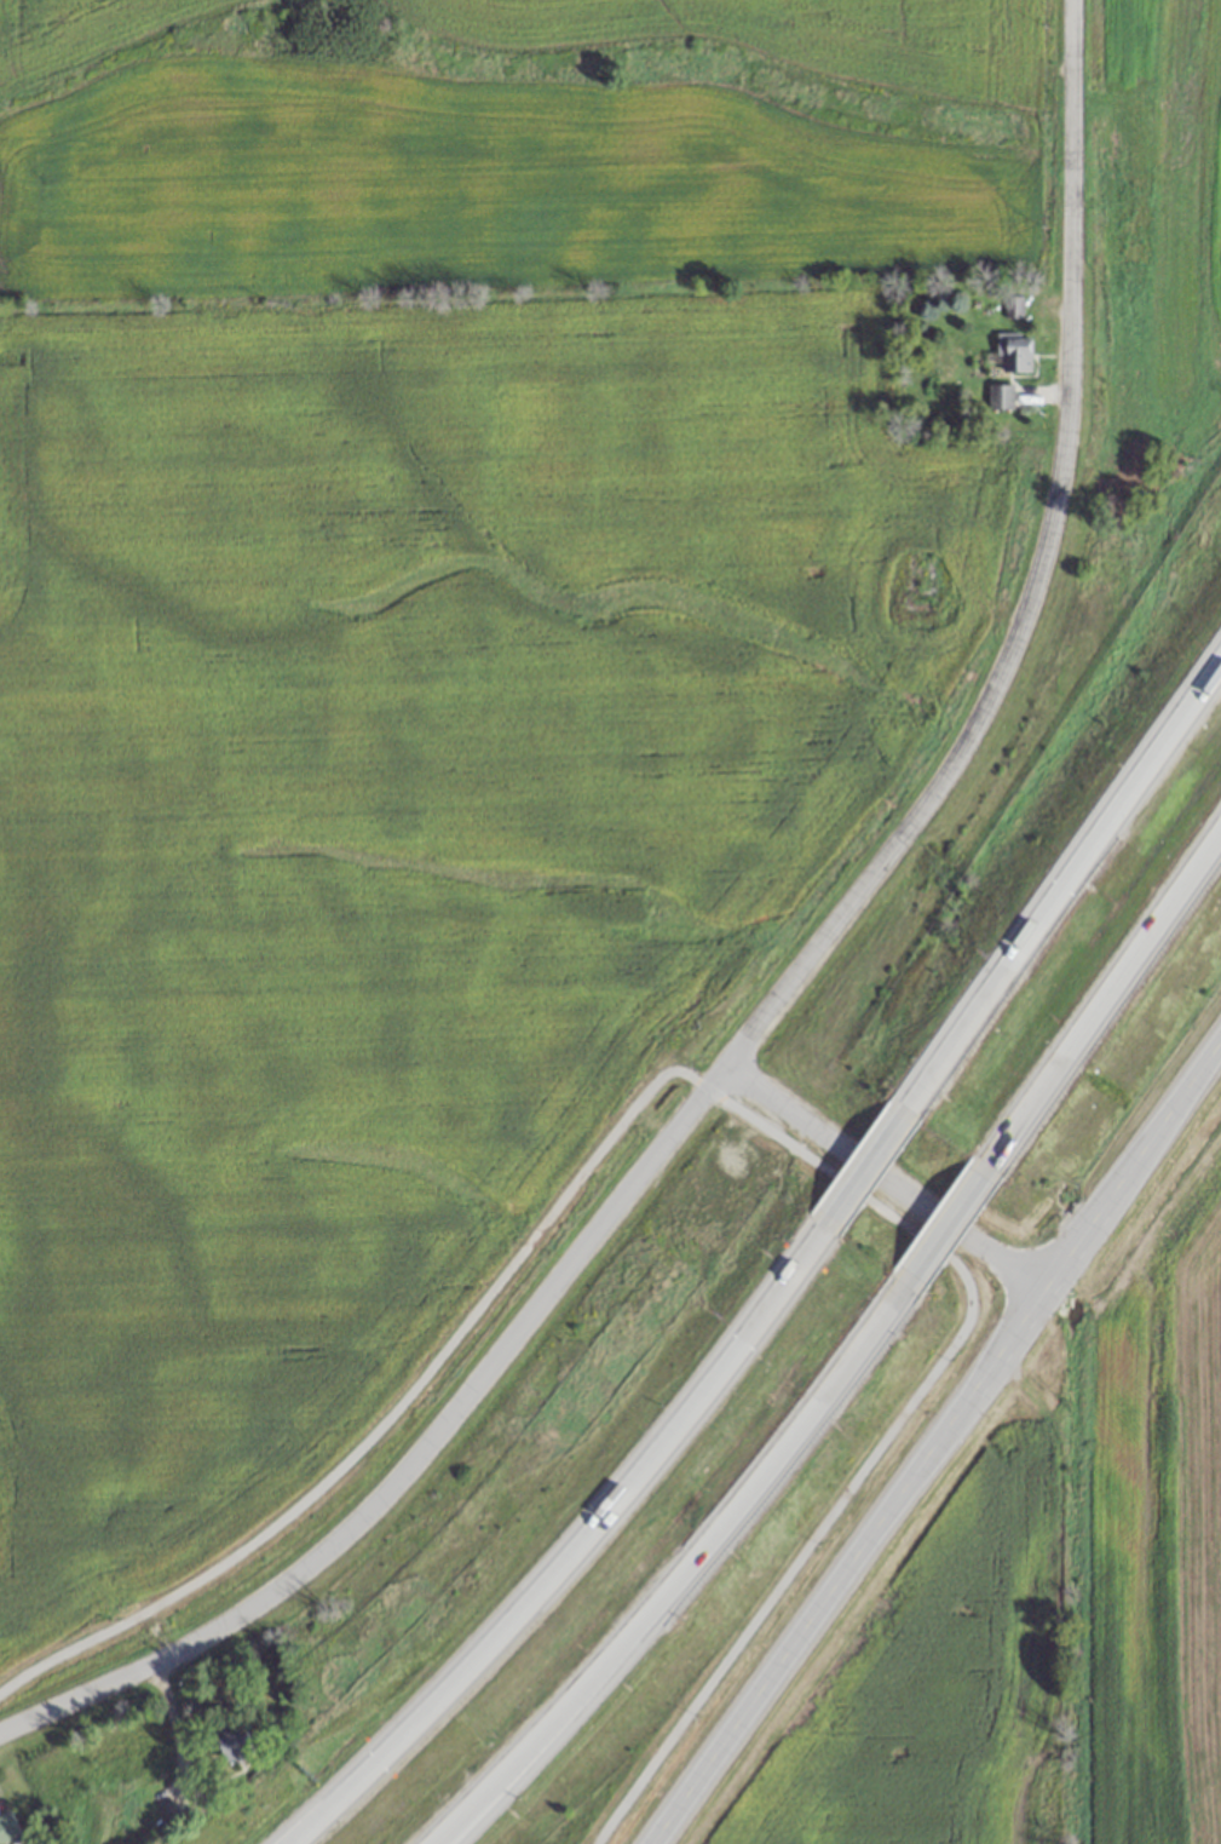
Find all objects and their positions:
crop: (1152, 225)
building: (1013, 351)
building: (1000, 396)
building: (917, 586)
crop: (432, 679)
building: (903, 831)
road: (1064, 878)
road: (773, 1001)
road: (1108, 1017)
road: (718, 1104)
road: (869, 1164)
road: (1133, 1166)
road: (885, 1184)
road: (958, 1225)
road: (568, 1539)
road: (687, 1567)
road: (848, 1568)
crop: (1035, 1585)
road: (152, 1633)
building: (234, 1742)
building: (7, 1828)

